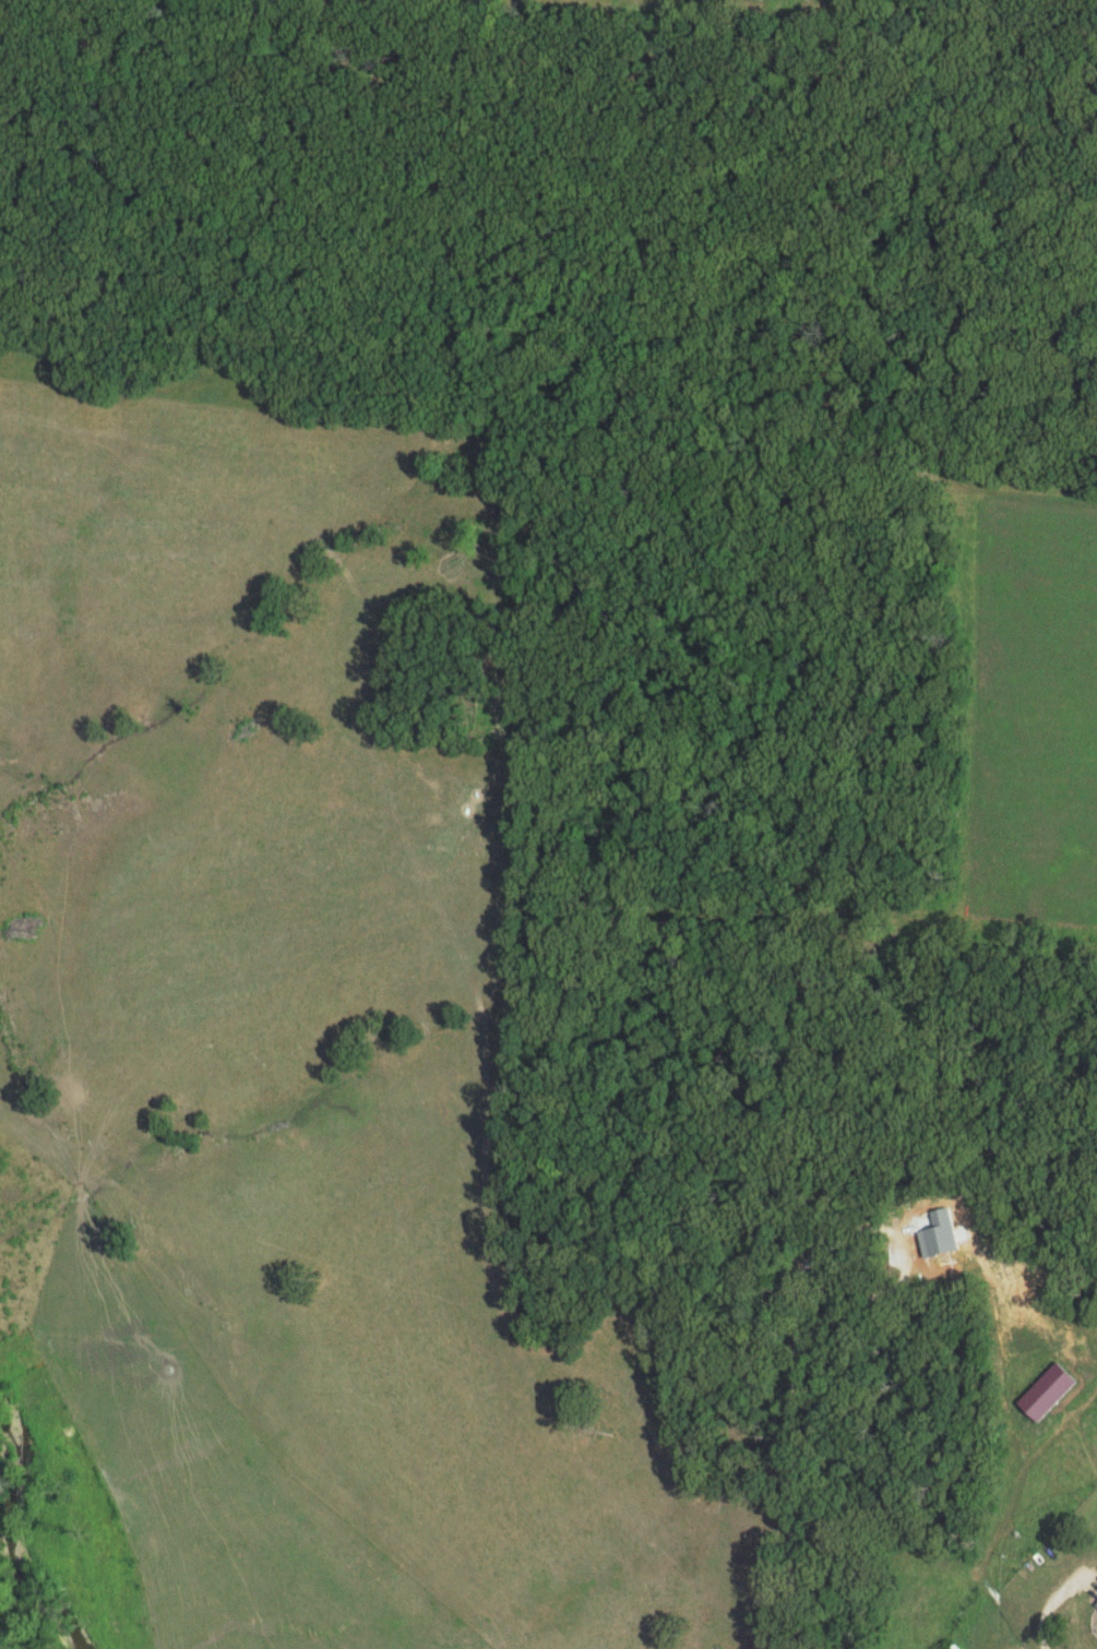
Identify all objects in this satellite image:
road: (1056, 1597)
building: (1096, 1604)

